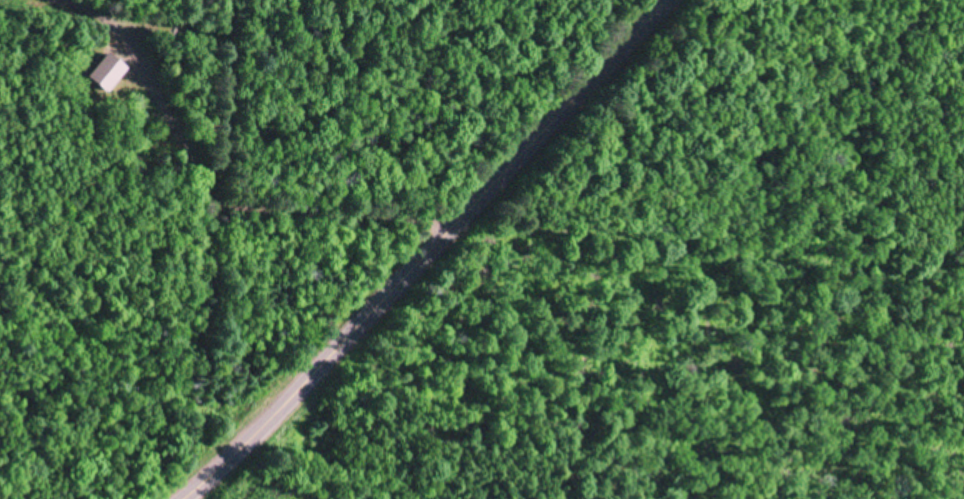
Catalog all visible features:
road: (229, 212)
road: (437, 253)

